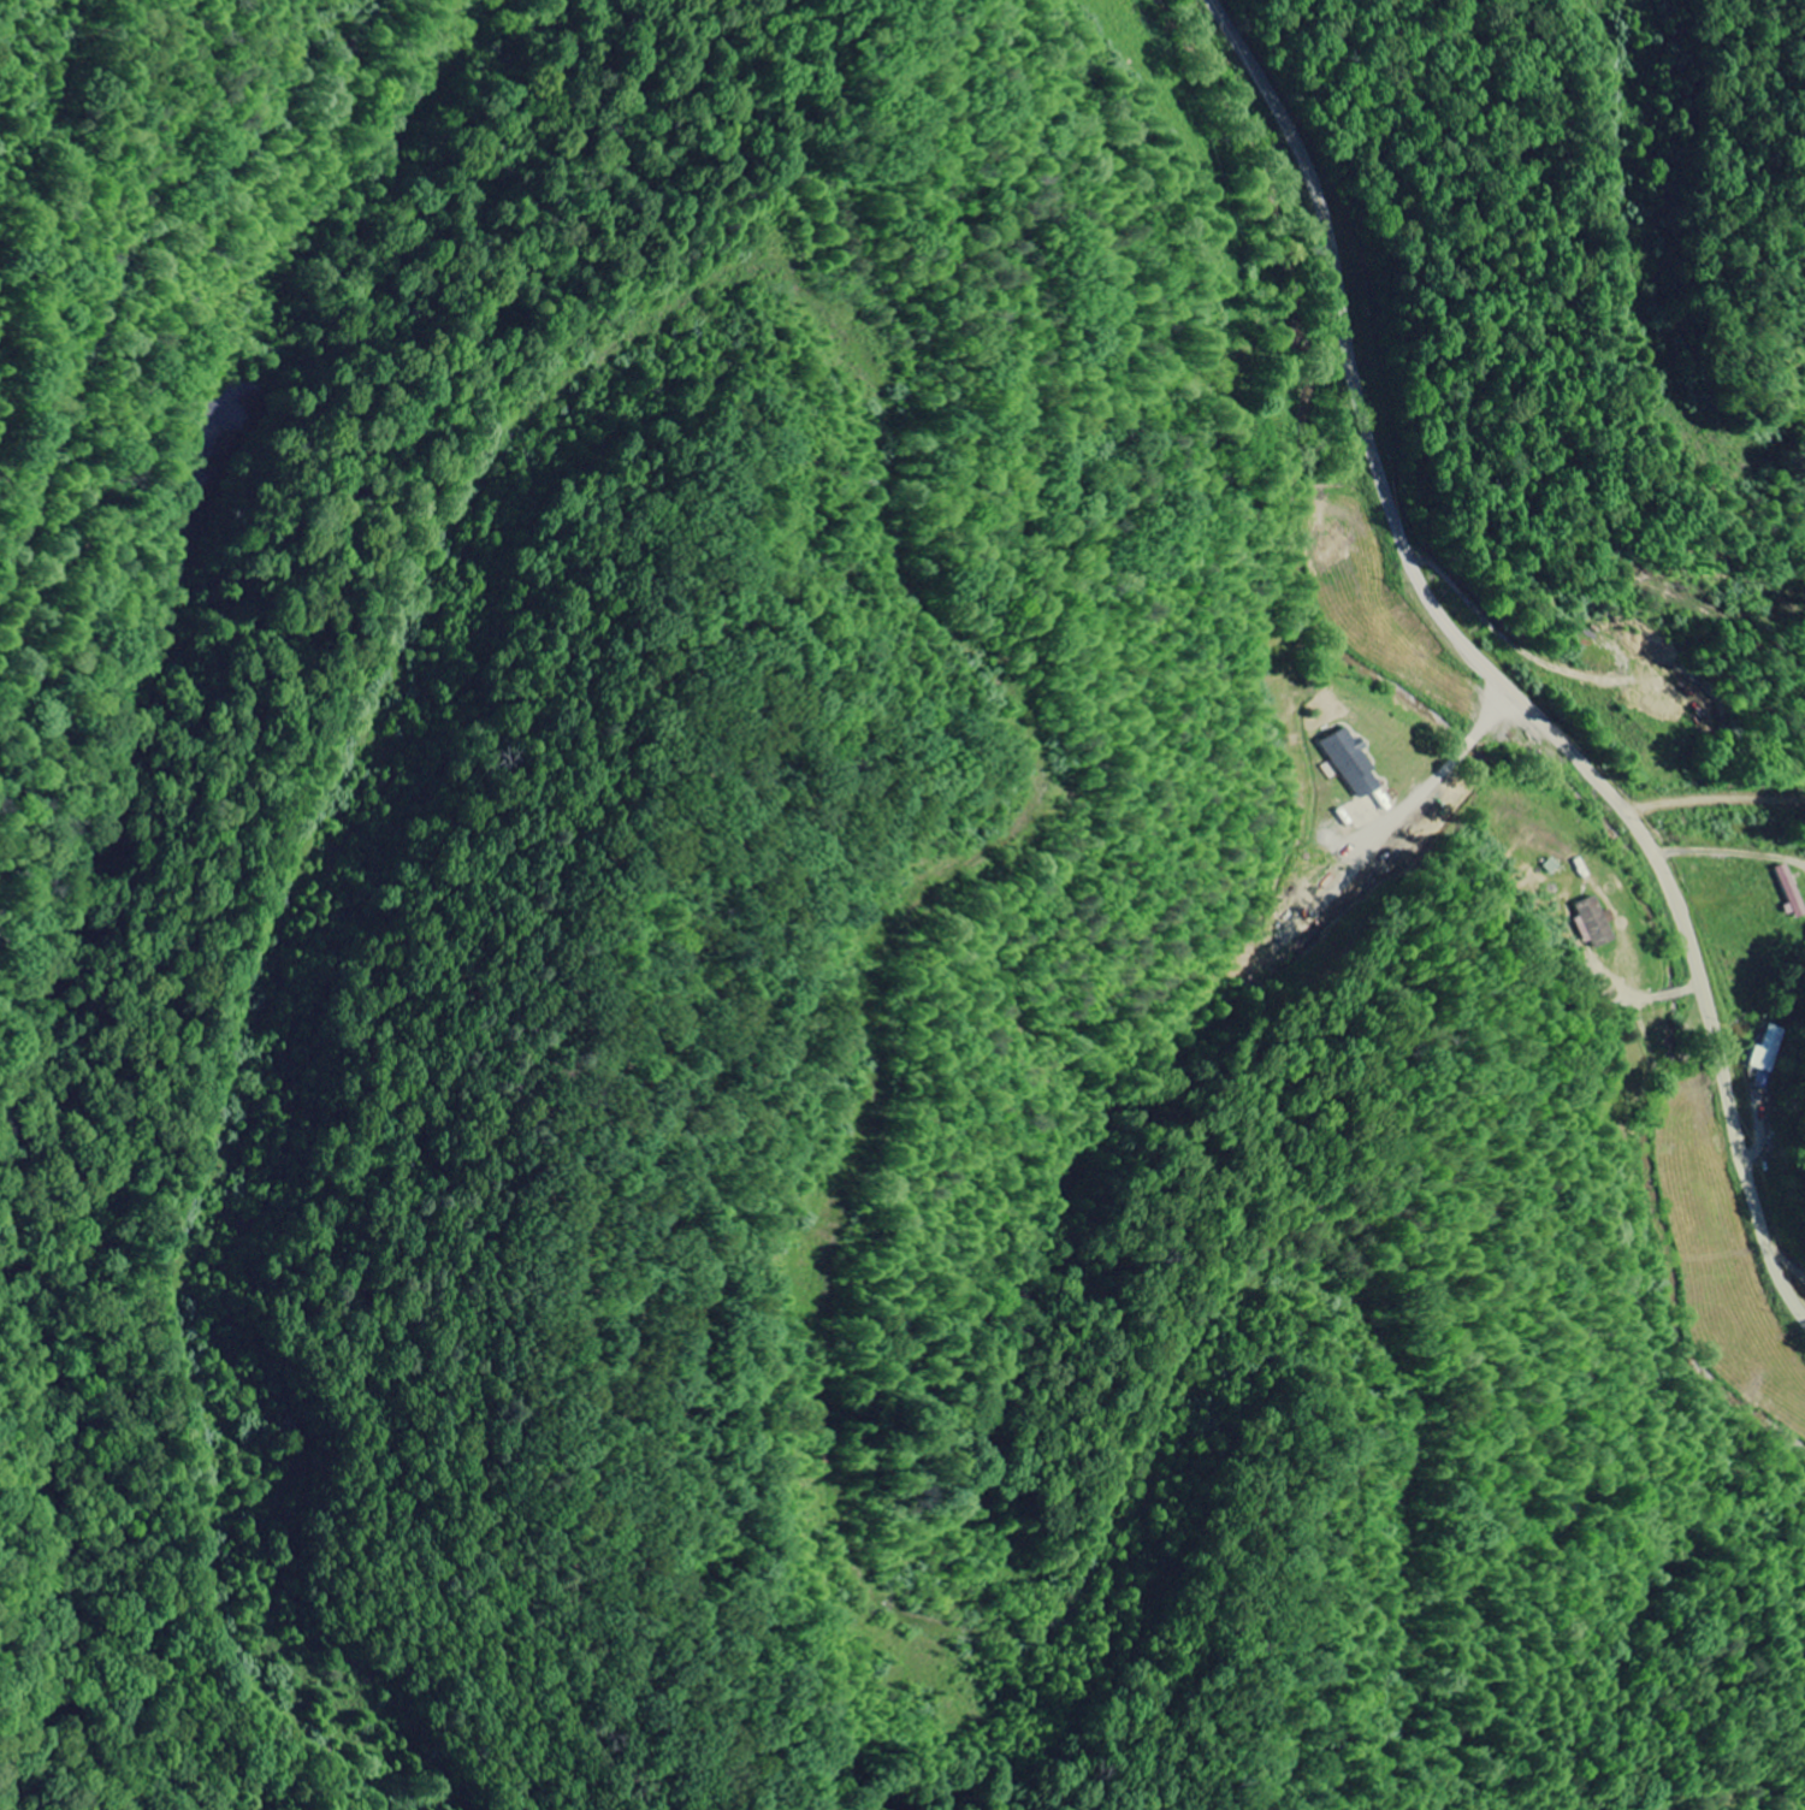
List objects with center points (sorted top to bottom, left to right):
road: (1491, 666)
building: (1348, 763)
building: (1791, 892)
building: (1592, 922)
road: (1669, 994)
building: (1774, 1058)

